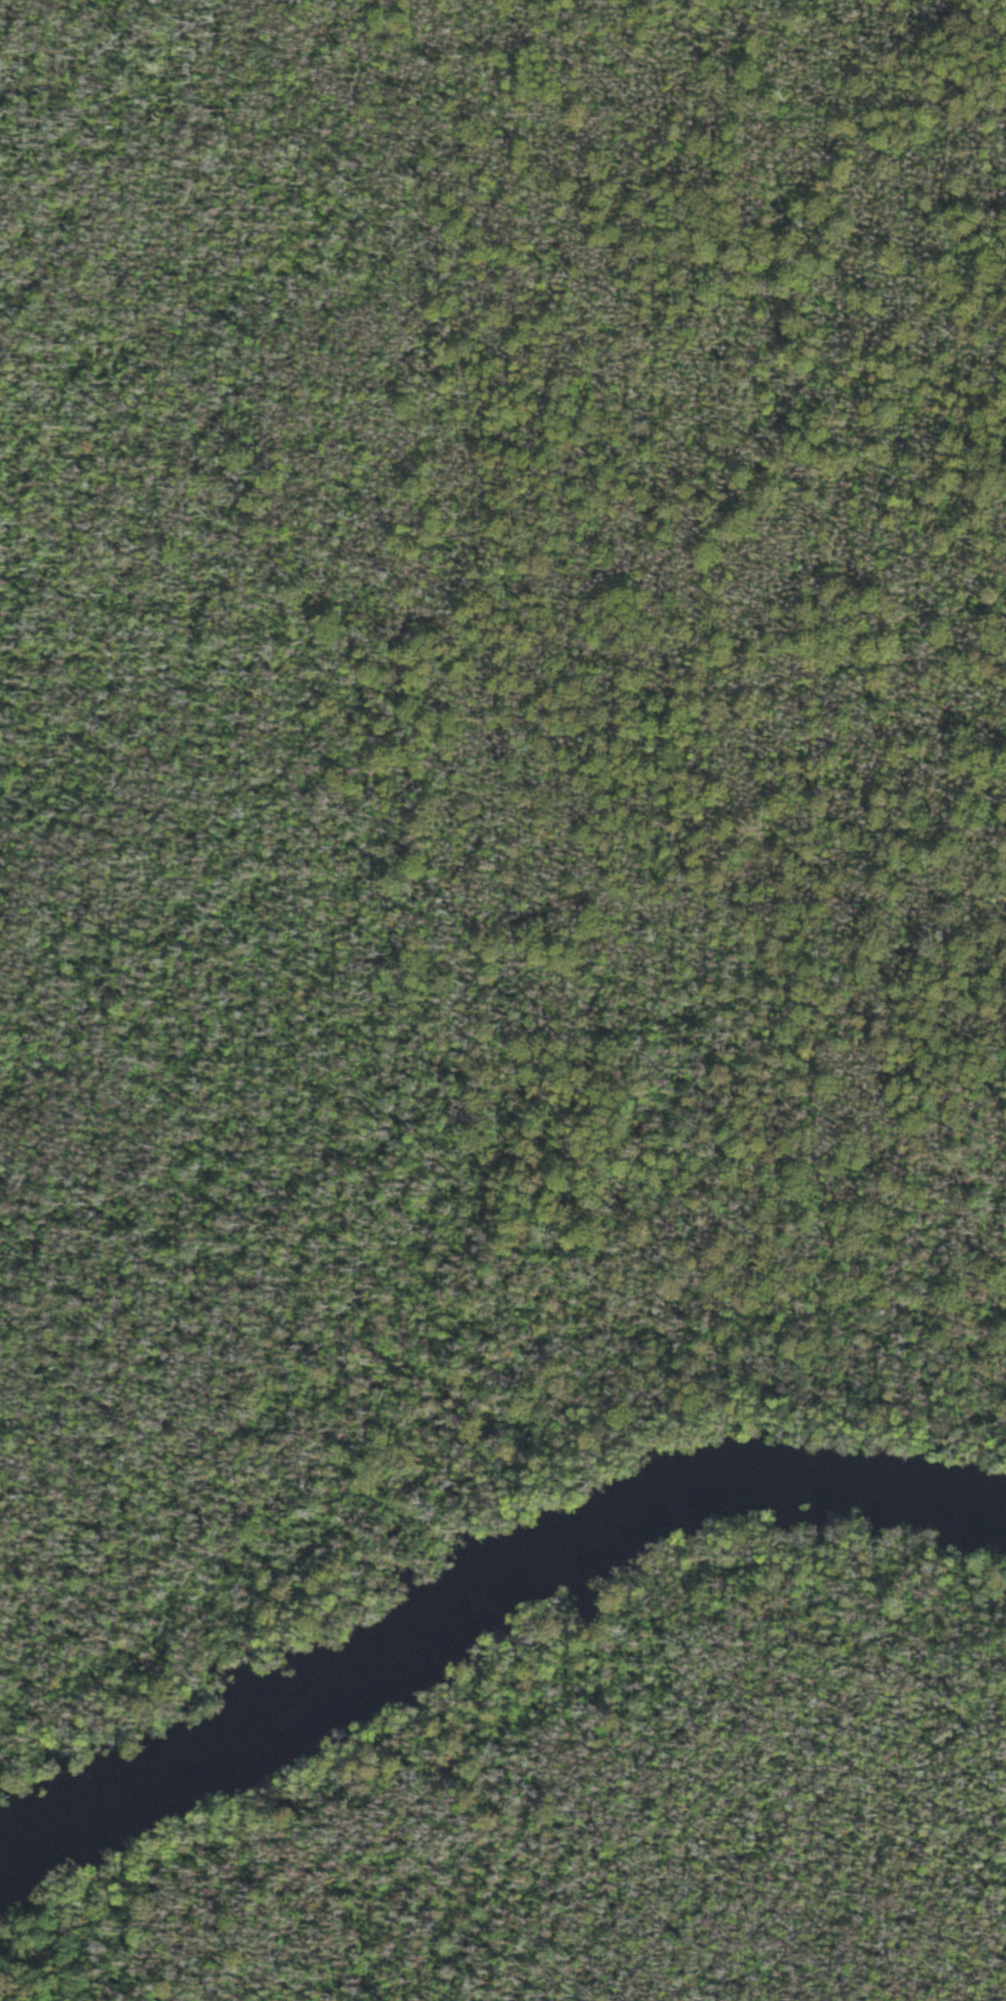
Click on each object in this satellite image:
river: (486, 1590)

